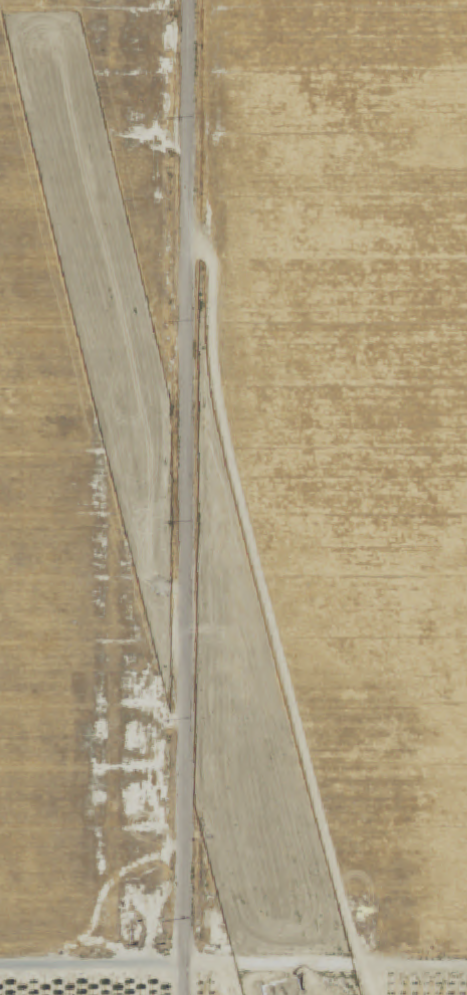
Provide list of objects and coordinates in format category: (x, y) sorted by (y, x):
crop: (135, 120)
crop: (355, 414)
road: (184, 497)
railway: (144, 498)
railway: (153, 498)
crop: (67, 641)
road: (91, 965)
road: (199, 965)
road: (413, 966)

